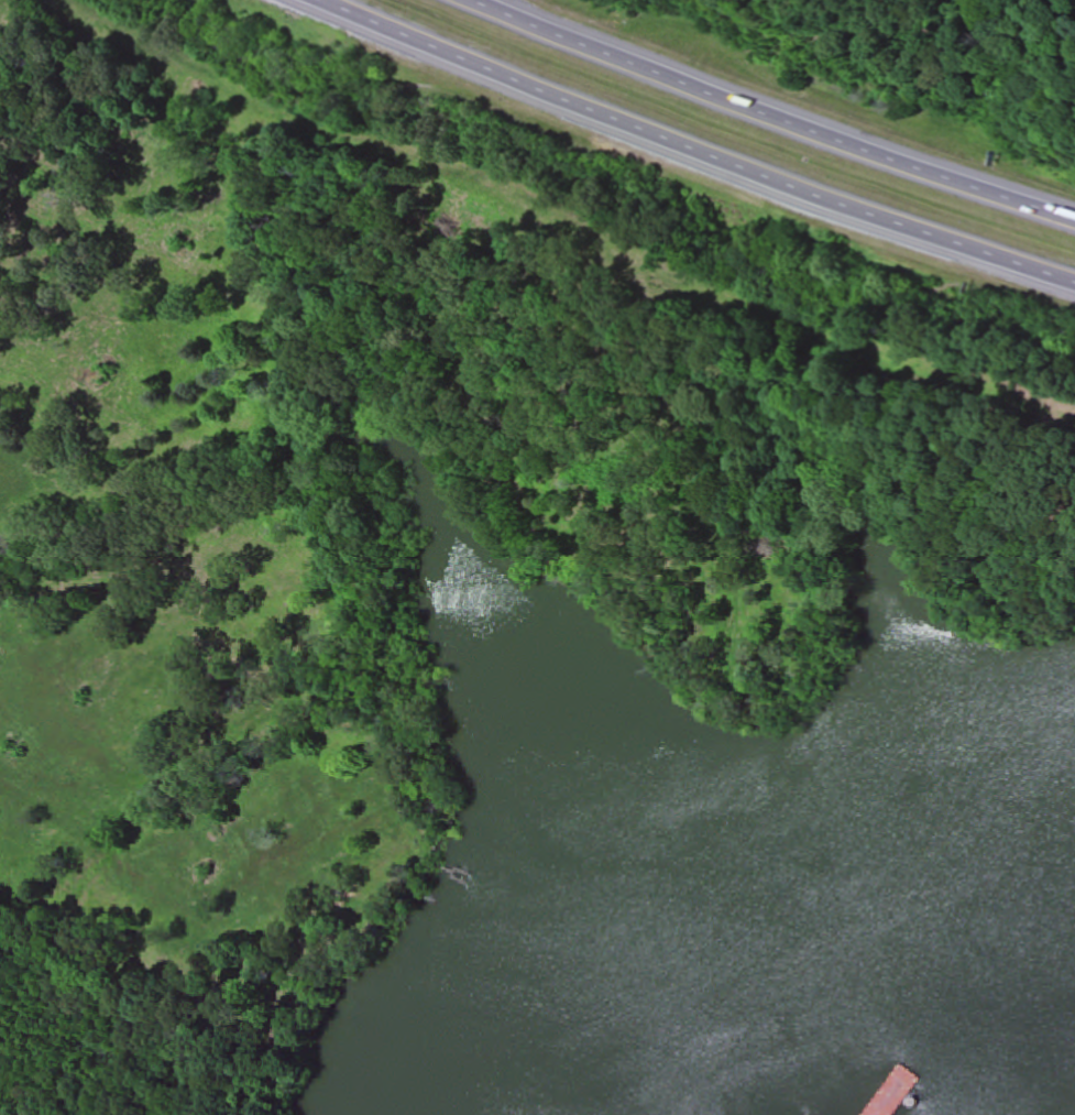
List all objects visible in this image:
park: (943, 50)
road: (769, 119)
road: (689, 154)
building: (452, 877)
park: (127, 1035)

